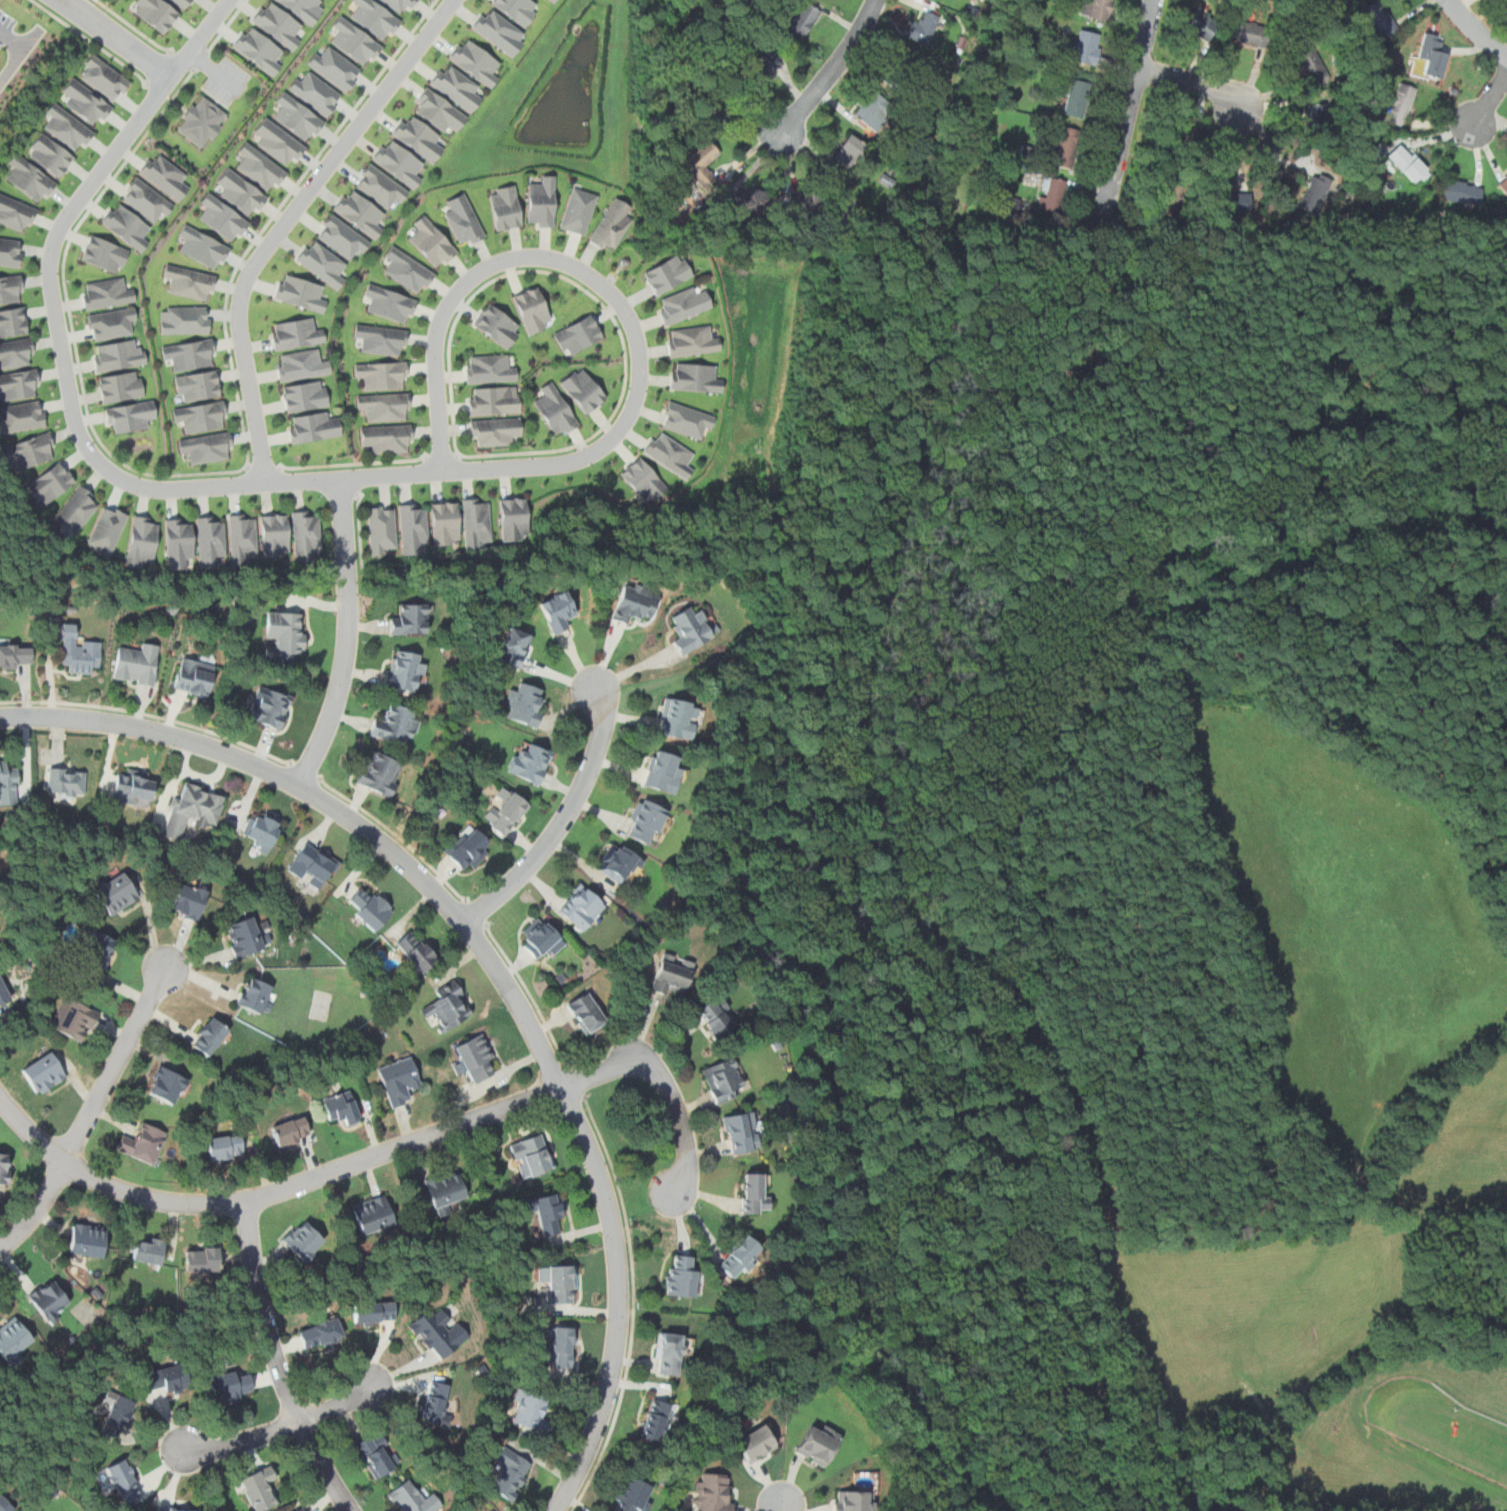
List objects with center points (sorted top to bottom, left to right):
building: (551, 0)
building: (554, 0)
road: (64, 1)
road: (67, 1)
building: (182, 3)
building: (399, 4)
building: (1096, 8)
building: (302, 9)
building: (516, 9)
building: (156, 13)
building: (375, 17)
building: (804, 18)
building: (1379, 19)
building: (277, 24)
building: (1200, 24)
parking lot: (6, 25)
road: (227, 26)
road: (135, 27)
building: (923, 28)
road: (1476, 30)
building: (497, 31)
building: (1245, 32)
road: (12, 40)
road: (120, 40)
road: (91, 41)
building: (355, 41)
building: (1086, 46)
building: (259, 48)
road: (19, 54)
building: (1432, 55)
road: (185, 59)
building: (474, 60)
road: (201, 61)
building: (906, 65)
building: (1312, 65)
building: (336, 66)
building: (763, 66)
road: (159, 68)
road: (832, 72)
building: (103, 77)
road: (1199, 81)
building: (455, 86)
building: (317, 92)
building: (1076, 98)
road: (1490, 100)
building: (86, 101)
building: (708, 101)
building: (1400, 105)
building: (873, 111)
building: (438, 112)
road: (1128, 113)
building: (1316, 113)
building: (299, 116)
building: (202, 121)
building: (1184, 126)
building: (67, 127)
building: (417, 137)
building: (279, 141)
building: (1065, 147)
building: (849, 150)
road: (1272, 151)
building: (50, 155)
building: (398, 161)
building: (697, 163)
building: (1408, 164)
building: (261, 167)
building: (164, 175)
building: (29, 178)
building: (1504, 185)
building: (380, 186)
building: (242, 192)
building: (1462, 192)
building: (1314, 193)
building: (1053, 195)
building: (1229, 196)
building: (745, 198)
building: (147, 200)
building: (1169, 200)
building: (541, 202)
building: (801, 203)
building: (1015, 205)
building: (504, 207)
building: (577, 211)
building: (360, 212)
building: (16, 213)
building: (223, 217)
building: (462, 220)
road: (287, 222)
building: (612, 224)
building: (126, 225)
building: (343, 237)
building: (432, 241)
building: (203, 247)
building: (10, 251)
building: (105, 253)
building: (322, 263)
building: (408, 270)
building: (667, 273)
building: (190, 282)
road: (603, 285)
building: (11, 289)
building: (301, 292)
building: (107, 293)
road: (592, 296)
building: (391, 302)
building: (682, 305)
building: (533, 310)
building: (185, 319)
building: (13, 321)
building: (111, 323)
building: (498, 325)
building: (296, 333)
building: (578, 335)
building: (382, 339)
building: (691, 341)
building: (15, 353)
building: (190, 354)
building: (117, 355)
building: (301, 364)
building: (489, 369)
building: (383, 374)
building: (693, 377)
road: (68, 381)
building: (19, 384)
building: (198, 385)
building: (121, 386)
building: (583, 389)
building: (305, 395)
building: (493, 400)
building: (385, 406)
building: (555, 410)
building: (21, 416)
building: (129, 416)
building: (201, 416)
building: (685, 419)
building: (312, 427)
building: (494, 431)
building: (387, 437)
building: (207, 447)
building: (30, 450)
building: (668, 453)
road: (443, 456)
road: (354, 463)
road: (262, 468)
road: (226, 471)
building: (642, 480)
building: (50, 483)
building: (75, 510)
building: (513, 518)
building: (444, 522)
building: (475, 522)
building: (412, 527)
road: (359, 528)
building: (107, 530)
building: (382, 530)
building: (305, 534)
building: (274, 535)
building: (242, 538)
building: (143, 540)
building: (210, 540)
building: (179, 541)
building: (633, 603)
building: (557, 611)
building: (410, 619)
building: (690, 629)
building: (284, 634)
road: (347, 636)
building: (513, 647)
building: (79, 650)
building: (15, 655)
building: (136, 665)
building: (404, 671)
building: (193, 677)
building: (525, 704)
building: (269, 708)
road: (150, 714)
building: (677, 718)
building: (396, 724)
building: (529, 762)
road: (306, 771)
building: (662, 772)
building: (380, 773)
building: (65, 782)
building: (8, 783)
building: (132, 787)
building: (192, 809)
building: (505, 811)
road: (566, 820)
building: (645, 821)
building: (263, 830)
road: (398, 836)
building: (467, 848)
airport: (1161, 850)
building: (619, 863)
building: (313, 865)
building: (116, 893)
building: (189, 900)
building: (580, 907)
building: (369, 908)
road: (479, 912)
building: (245, 936)
building: (541, 939)
building: (98, 948)
building: (416, 951)
road: (495, 968)
building: (670, 975)
building: (2, 990)
building: (256, 995)
road: (530, 995)
building: (449, 1005)
building: (586, 1013)
building: (716, 1017)
building: (73, 1019)
building: (209, 1036)
building: (474, 1059)
building: (44, 1073)
building: (722, 1079)
building: (399, 1080)
road: (576, 1081)
building: (168, 1085)
road: (670, 1088)
building: (341, 1107)
road: (93, 1114)
building: (290, 1130)
building: (742, 1133)
building: (142, 1143)
building: (224, 1147)
building: (532, 1153)
building: (4, 1168)
building: (445, 1188)
road: (272, 1192)
building: (753, 1194)
building: (549, 1212)
building: (373, 1214)
building: (87, 1240)
building: (303, 1241)
building: (148, 1249)
building: (740, 1257)
building: (201, 1258)
building: (680, 1276)
building: (562, 1283)
building: (49, 1300)
road: (633, 1302)
building: (374, 1312)
building: (436, 1332)
building: (320, 1334)
building: (13, 1339)
building: (560, 1348)
building: (672, 1351)
road: (279, 1364)
building: (165, 1379)
building: (230, 1387)
building: (435, 1402)
building: (531, 1411)
building: (118, 1416)
building: (657, 1421)
road: (280, 1428)
airport runway: (1454, 1430)
building: (755, 1443)
building: (815, 1444)
building: (376, 1456)
building: (510, 1472)
building: (123, 1481)
building: (259, 1489)
building: (712, 1491)
building: (630, 1493)
building: (412, 1499)
building: (852, 1500)
building: (5, 1505)
road: (784, 1505)
building: (177, 1509)
building: (303, 1510)
building: (491, 1510)

